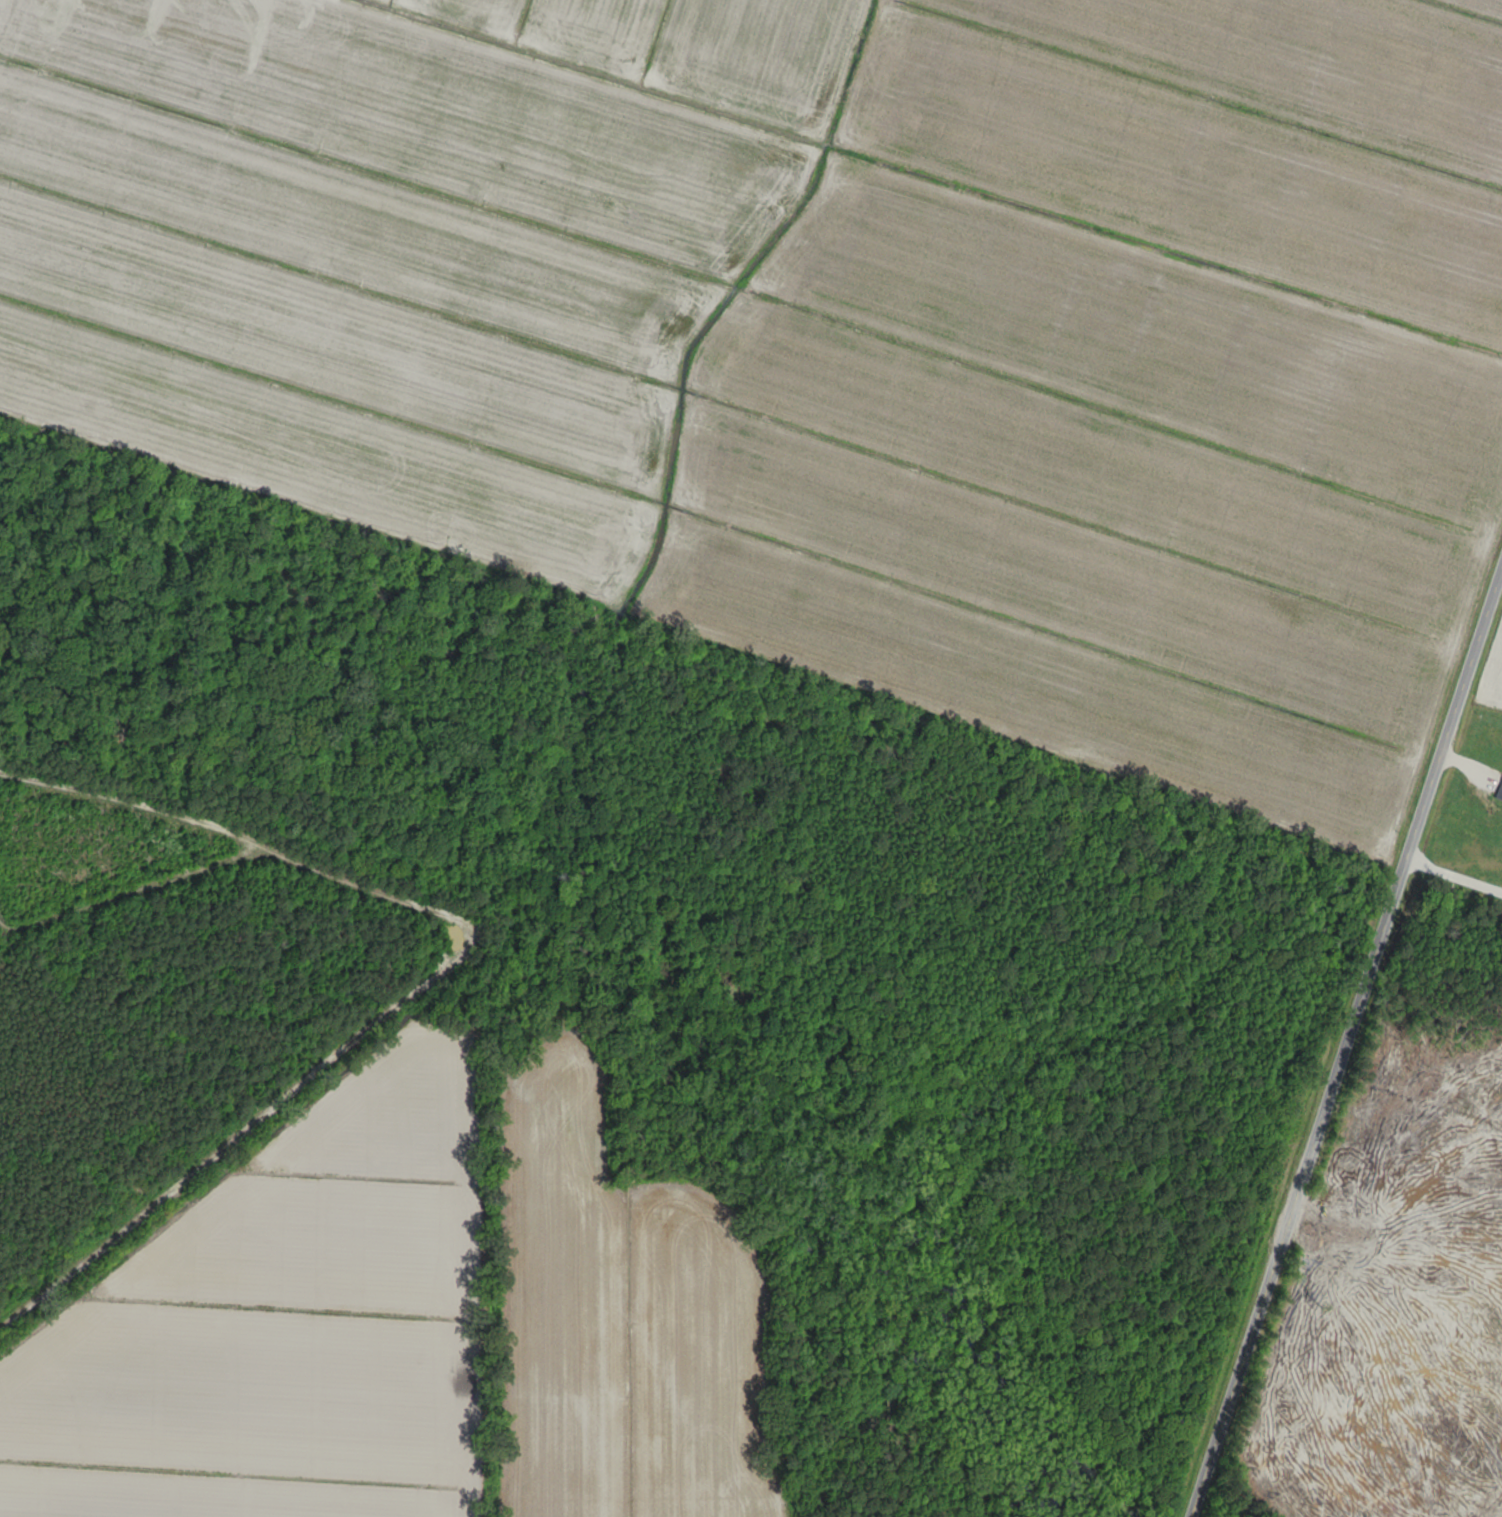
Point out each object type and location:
building: (1498, 792)
building: (1472, 821)
road: (1346, 1043)

